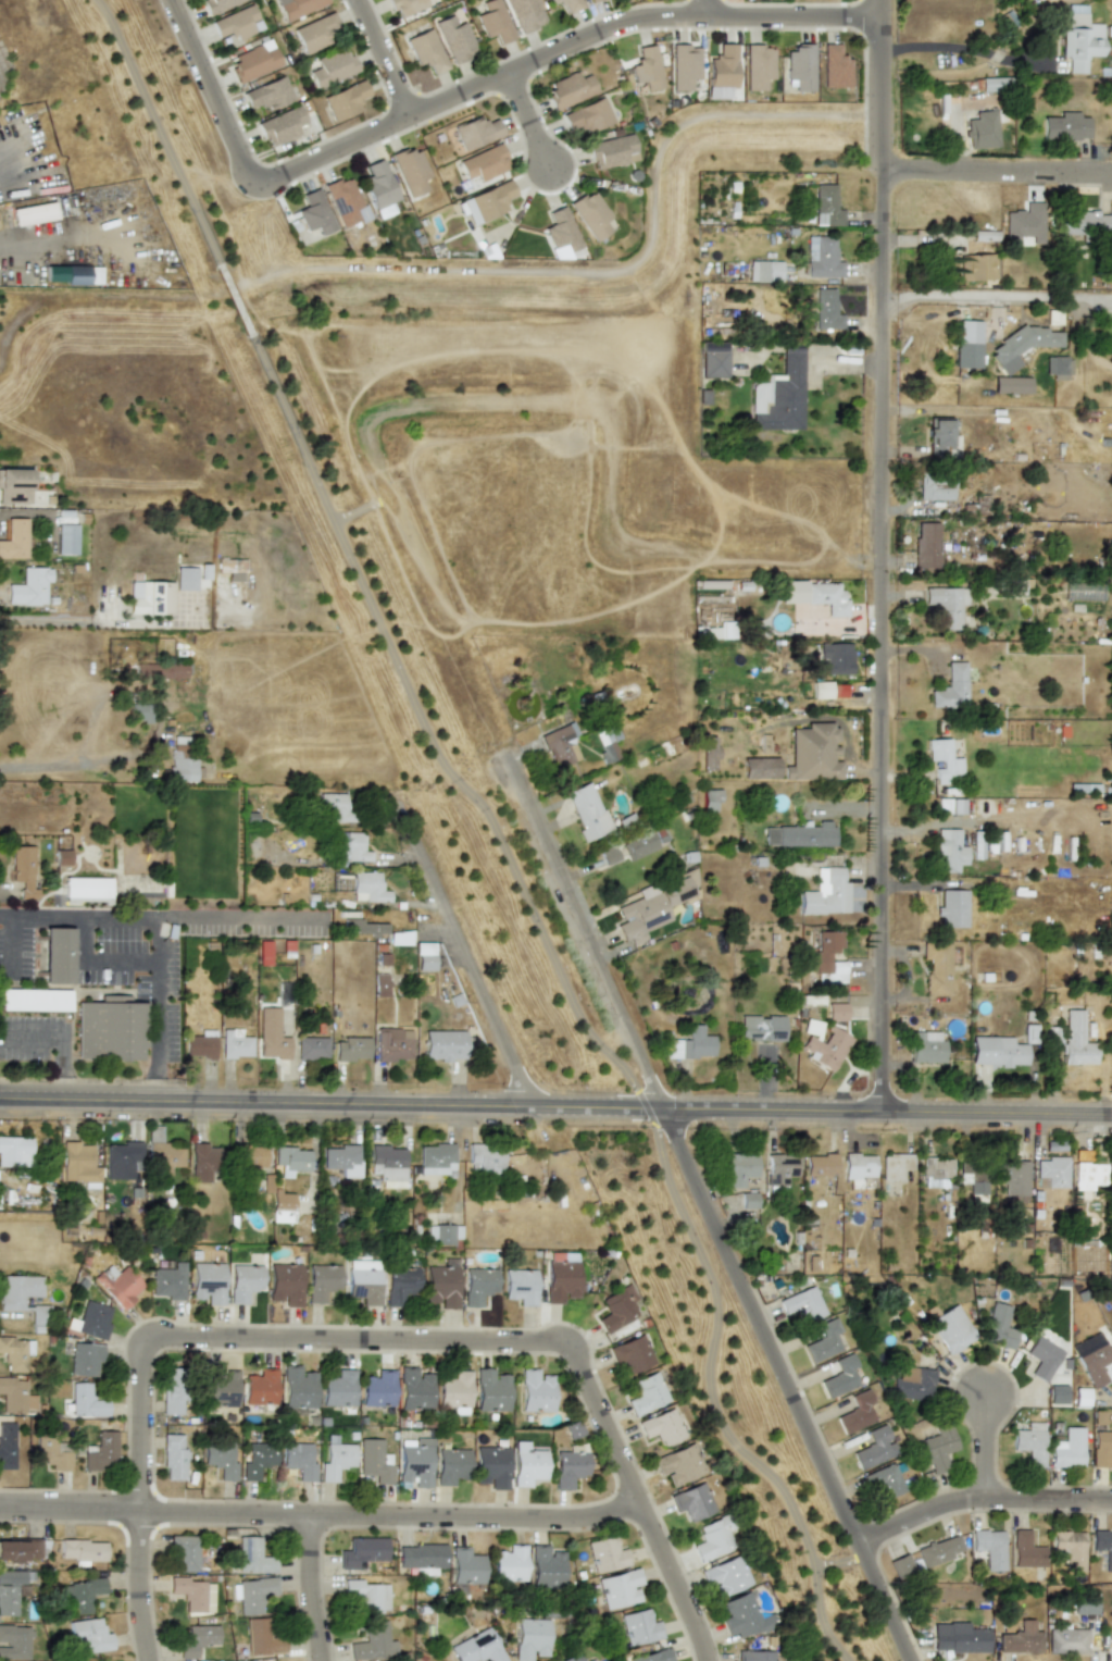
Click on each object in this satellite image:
building: (588, 0)
building: (550, 1)
building: (218, 4)
building: (570, 5)
building: (296, 8)
road: (704, 9)
building: (525, 13)
road: (755, 18)
building: (493, 22)
building: (236, 23)
building: (316, 32)
building: (454, 38)
building: (1079, 39)
road: (965, 49)
building: (426, 51)
road: (382, 57)
building: (253, 61)
building: (683, 65)
building: (757, 66)
building: (834, 66)
building: (330, 67)
building: (645, 69)
building: (799, 70)
building: (721, 72)
building: (996, 84)
building: (569, 89)
road: (209, 91)
building: (266, 94)
building: (345, 100)
road: (435, 100)
building: (587, 116)
road: (526, 121)
building: (280, 125)
building: (1065, 126)
building: (983, 131)
building: (475, 132)
building: (611, 151)
building: (483, 163)
building: (410, 171)
road: (1001, 177)
building: (378, 189)
building: (342, 200)
building: (486, 201)
building: (826, 206)
building: (313, 212)
building: (33, 213)
building: (590, 215)
building: (1085, 222)
building: (1025, 223)
building: (560, 230)
road: (32, 244)
building: (822, 258)
building: (978, 266)
road: (624, 271)
building: (764, 272)
building: (74, 274)
road: (1000, 296)
road: (80, 300)
building: (826, 310)
building: (1021, 344)
building: (967, 355)
building: (713, 359)
building: (1057, 368)
building: (1011, 385)
building: (779, 395)
building: (940, 437)
building: (14, 486)
building: (936, 486)
building: (14, 538)
building: (65, 538)
building: (926, 545)
road: (888, 558)
building: (185, 579)
building: (29, 586)
building: (1083, 591)
building: (814, 595)
building: (150, 597)
building: (947, 605)
road: (100, 621)
building: (837, 657)
building: (162, 669)
building: (950, 687)
building: (140, 712)
building: (607, 741)
building: (560, 745)
building: (814, 753)
road: (101, 758)
building: (944, 761)
building: (182, 767)
building: (710, 798)
building: (334, 807)
building: (587, 810)
road: (485, 823)
building: (800, 835)
building: (639, 845)
building: (351, 847)
building: (950, 850)
building: (609, 855)
building: (62, 857)
building: (23, 870)
building: (86, 888)
building: (367, 888)
building: (826, 893)
building: (651, 908)
building: (952, 908)
road: (5, 915)
road: (150, 916)
road: (237, 916)
building: (362, 928)
building: (264, 953)
building: (58, 955)
building: (425, 956)
building: (828, 957)
road: (98, 959)
building: (937, 967)
road: (473, 970)
building: (379, 984)
building: (35, 1000)
building: (836, 1012)
building: (761, 1028)
building: (110, 1029)
building: (271, 1034)
building: (1075, 1040)
road: (61, 1044)
building: (200, 1044)
building: (235, 1044)
building: (393, 1044)
building: (691, 1044)
building: (443, 1045)
building: (926, 1046)
building: (826, 1048)
building: (312, 1049)
building: (351, 1049)
building: (997, 1052)
road: (555, 1113)
building: (14, 1151)
building: (163, 1156)
building: (252, 1157)
building: (484, 1158)
building: (122, 1160)
building: (290, 1160)
building: (341, 1160)
building: (436, 1160)
building: (202, 1162)
building: (387, 1162)
building: (77, 1163)
building: (820, 1165)
building: (896, 1165)
building: (858, 1166)
building: (739, 1168)
building: (780, 1168)
building: (1111, 1170)
building: (1052, 1172)
building: (936, 1173)
building: (1089, 1174)
building: (1014, 1178)
building: (748, 1200)
building: (282, 1206)
road: (705, 1211)
building: (443, 1234)
building: (1087, 1262)
building: (167, 1281)
building: (243, 1281)
building: (322, 1281)
building: (561, 1281)
building: (207, 1282)
building: (285, 1284)
building: (399, 1285)
building: (118, 1286)
building: (441, 1286)
building: (478, 1286)
building: (520, 1286)
building: (17, 1290)
building: (802, 1304)
building: (617, 1307)
building: (39, 1315)
building: (92, 1319)
building: (998, 1327)
building: (951, 1329)
road: (267, 1340)
building: (824, 1341)
building: (15, 1353)
building: (632, 1353)
building: (1042, 1358)
building: (84, 1359)
building: (1092, 1359)
building: (840, 1377)
building: (912, 1384)
building: (259, 1387)
building: (298, 1388)
building: (337, 1389)
building: (377, 1389)
building: (413, 1389)
building: (173, 1390)
building: (453, 1390)
building: (490, 1390)
building: (221, 1391)
building: (535, 1391)
building: (647, 1393)
building: (15, 1396)
building: (87, 1400)
building: (855, 1412)
building: (661, 1427)
building: (1029, 1443)
building: (7, 1446)
road: (988, 1447)
building: (874, 1448)
building: (938, 1448)
building: (1067, 1448)
building: (1102, 1450)
building: (101, 1451)
building: (52, 1452)
building: (173, 1458)
building: (220, 1459)
building: (257, 1460)
building: (298, 1460)
building: (373, 1461)
building: (415, 1462)
building: (526, 1464)
building: (679, 1464)
building: (450, 1465)
building: (490, 1466)
building: (569, 1467)
building: (884, 1483)
road: (978, 1499)
road: (640, 1501)
building: (692, 1501)
road: (322, 1519)
building: (712, 1539)
building: (1103, 1547)
building: (988, 1548)
building: (1069, 1549)
building: (12, 1550)
building: (82, 1550)
building: (939, 1550)
building: (362, 1551)
building: (1026, 1551)
building: (184, 1553)
building: (604, 1554)
building: (421, 1558)
building: (509, 1564)
building: (465, 1566)
building: (900, 1566)
building: (545, 1567)
building: (725, 1576)
building: (619, 1588)
road: (142, 1589)
road: (314, 1589)
building: (11, 1590)
building: (192, 1594)
building: (253, 1594)
building: (80, 1595)
building: (363, 1596)
building: (742, 1615)
building: (638, 1627)
building: (90, 1635)
building: (263, 1636)
building: (528, 1638)
building: (958, 1638)
building: (196, 1639)
building: (1020, 1639)
building: (1066, 1641)
building: (14, 1643)
building: (372, 1643)
building: (476, 1648)
building: (754, 1656)
building: (651, 1657)
building: (571, 1658)
building: (590, 1660)

